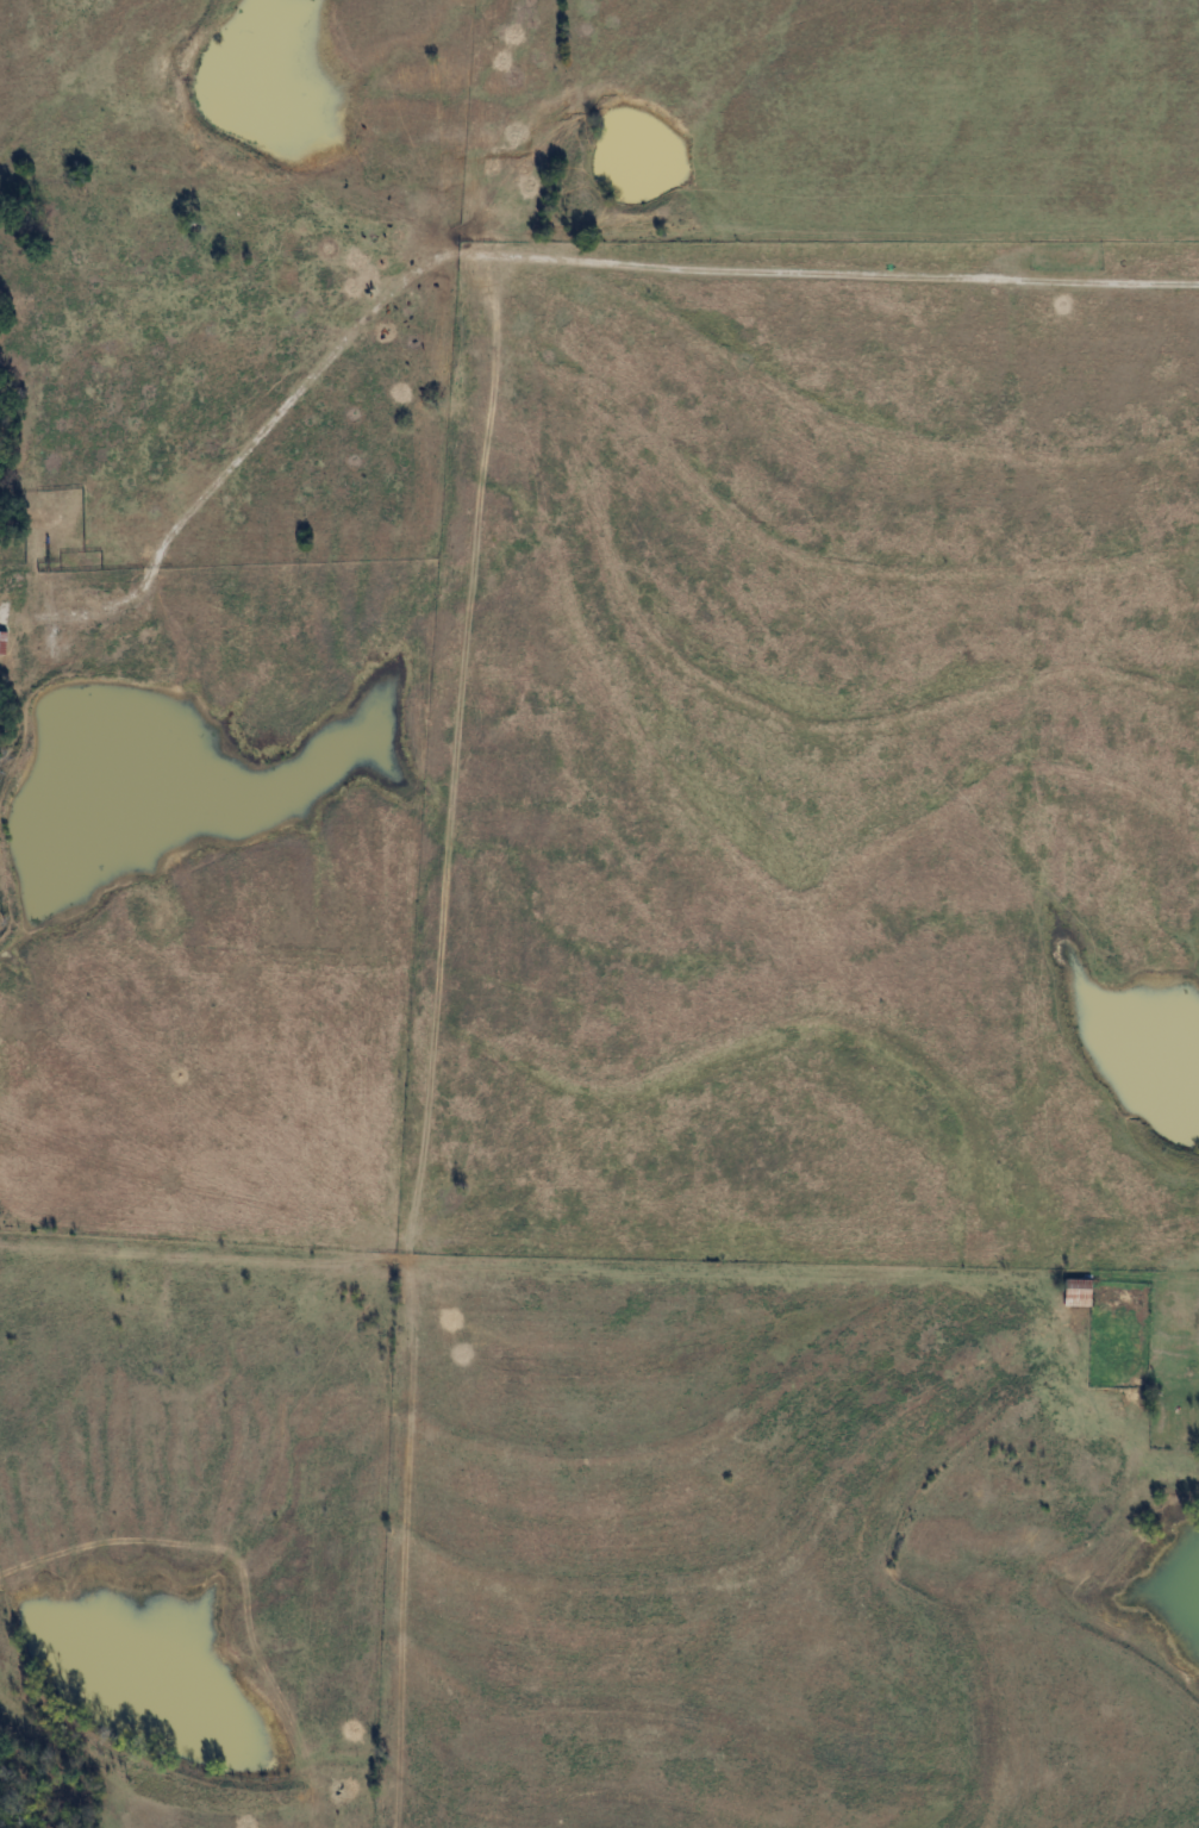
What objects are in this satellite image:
road: (612, 257)
building: (1, 643)
building: (1075, 1292)

